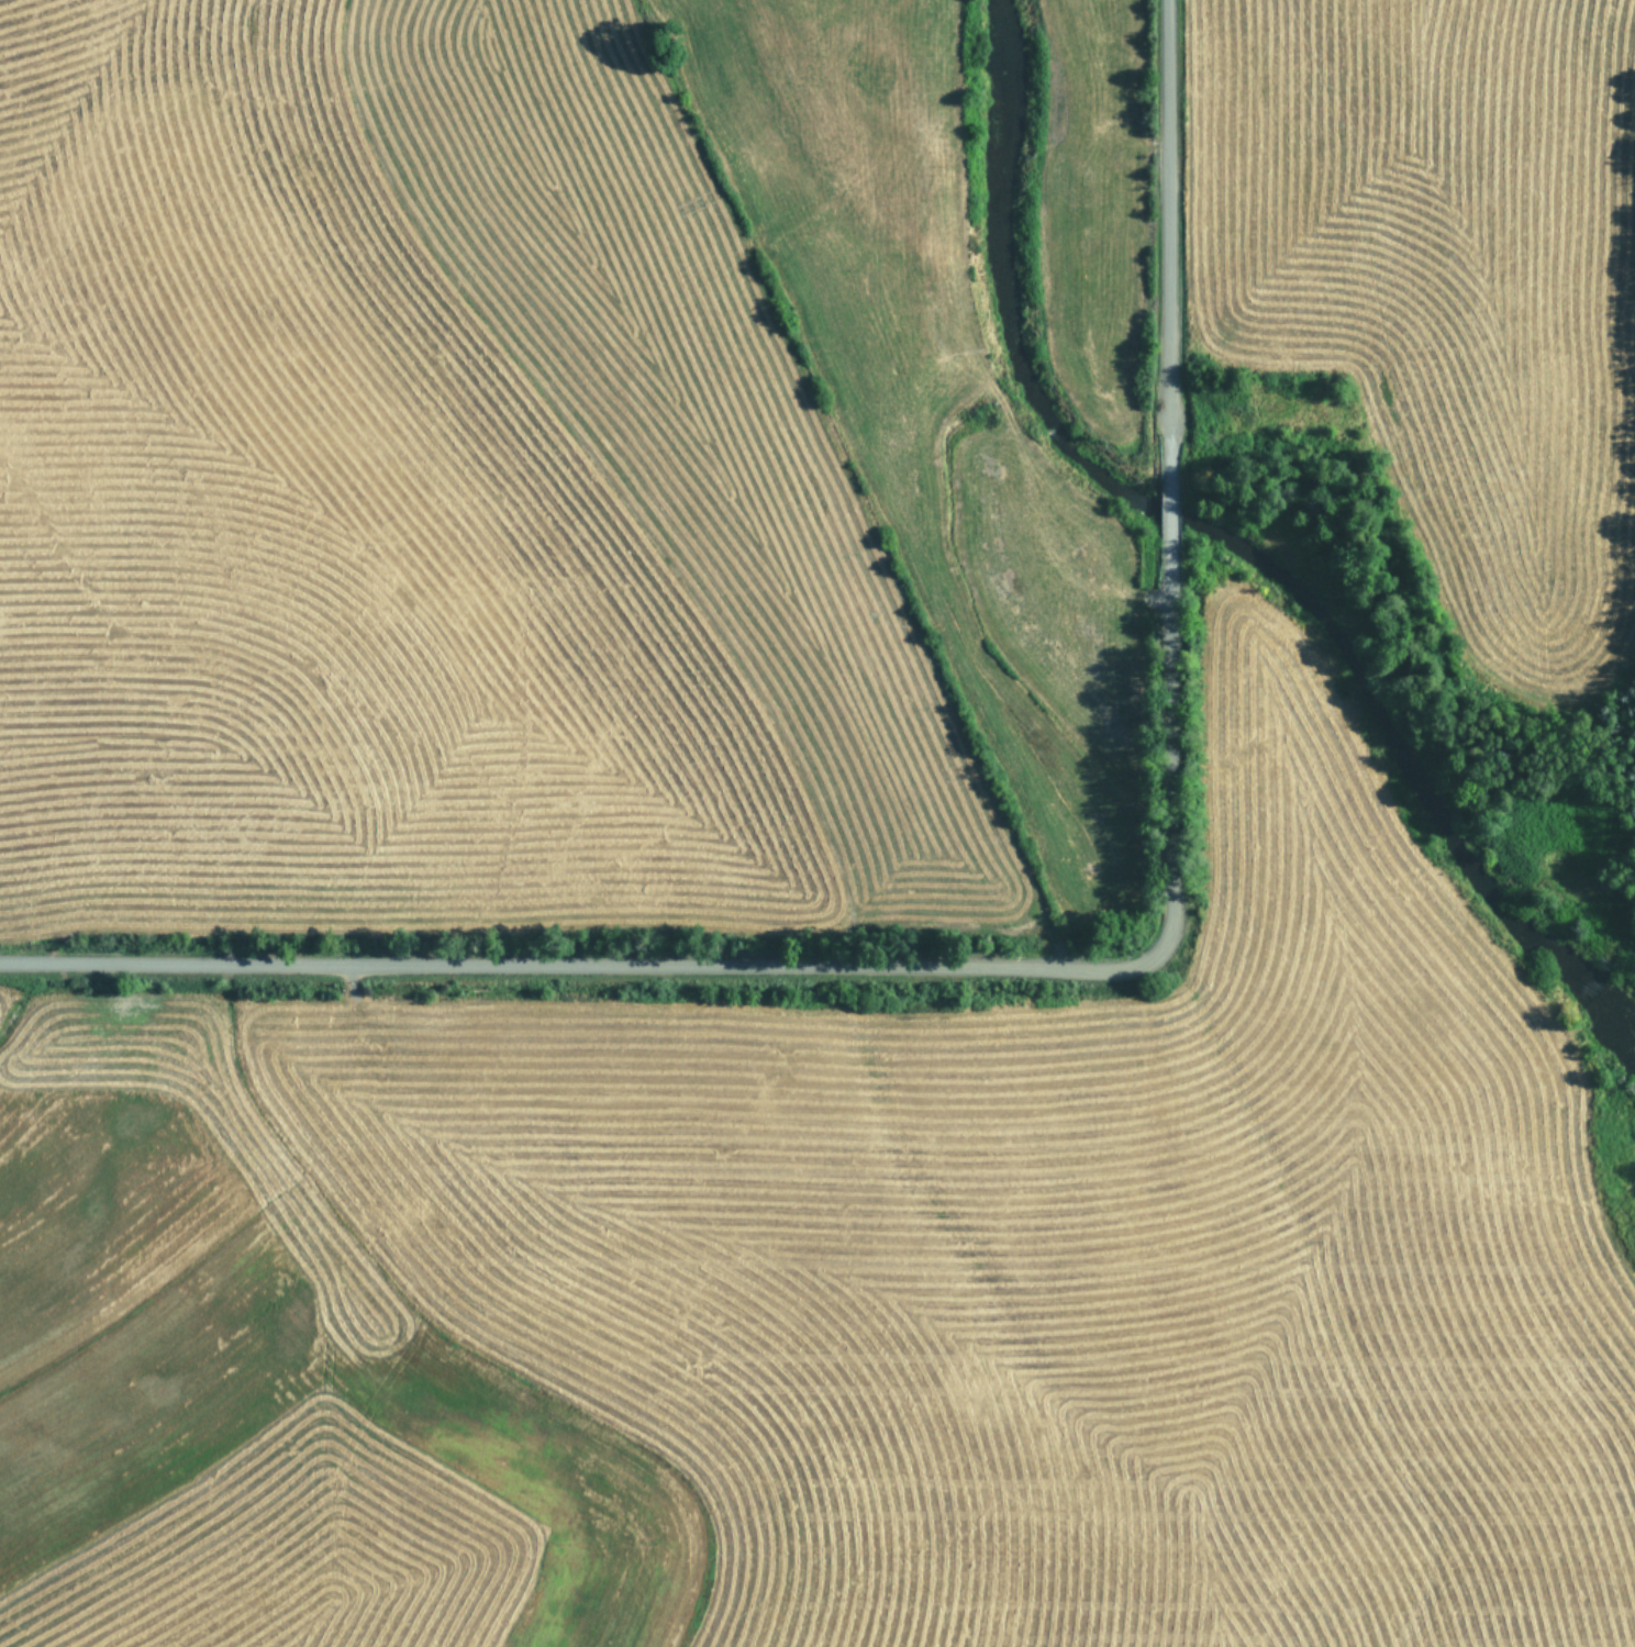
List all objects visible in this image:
parking lot: (1433, 278)
road: (959, 337)
crop: (520, 489)
road: (1063, 971)
crop: (118, 1151)
crop: (909, 1291)

